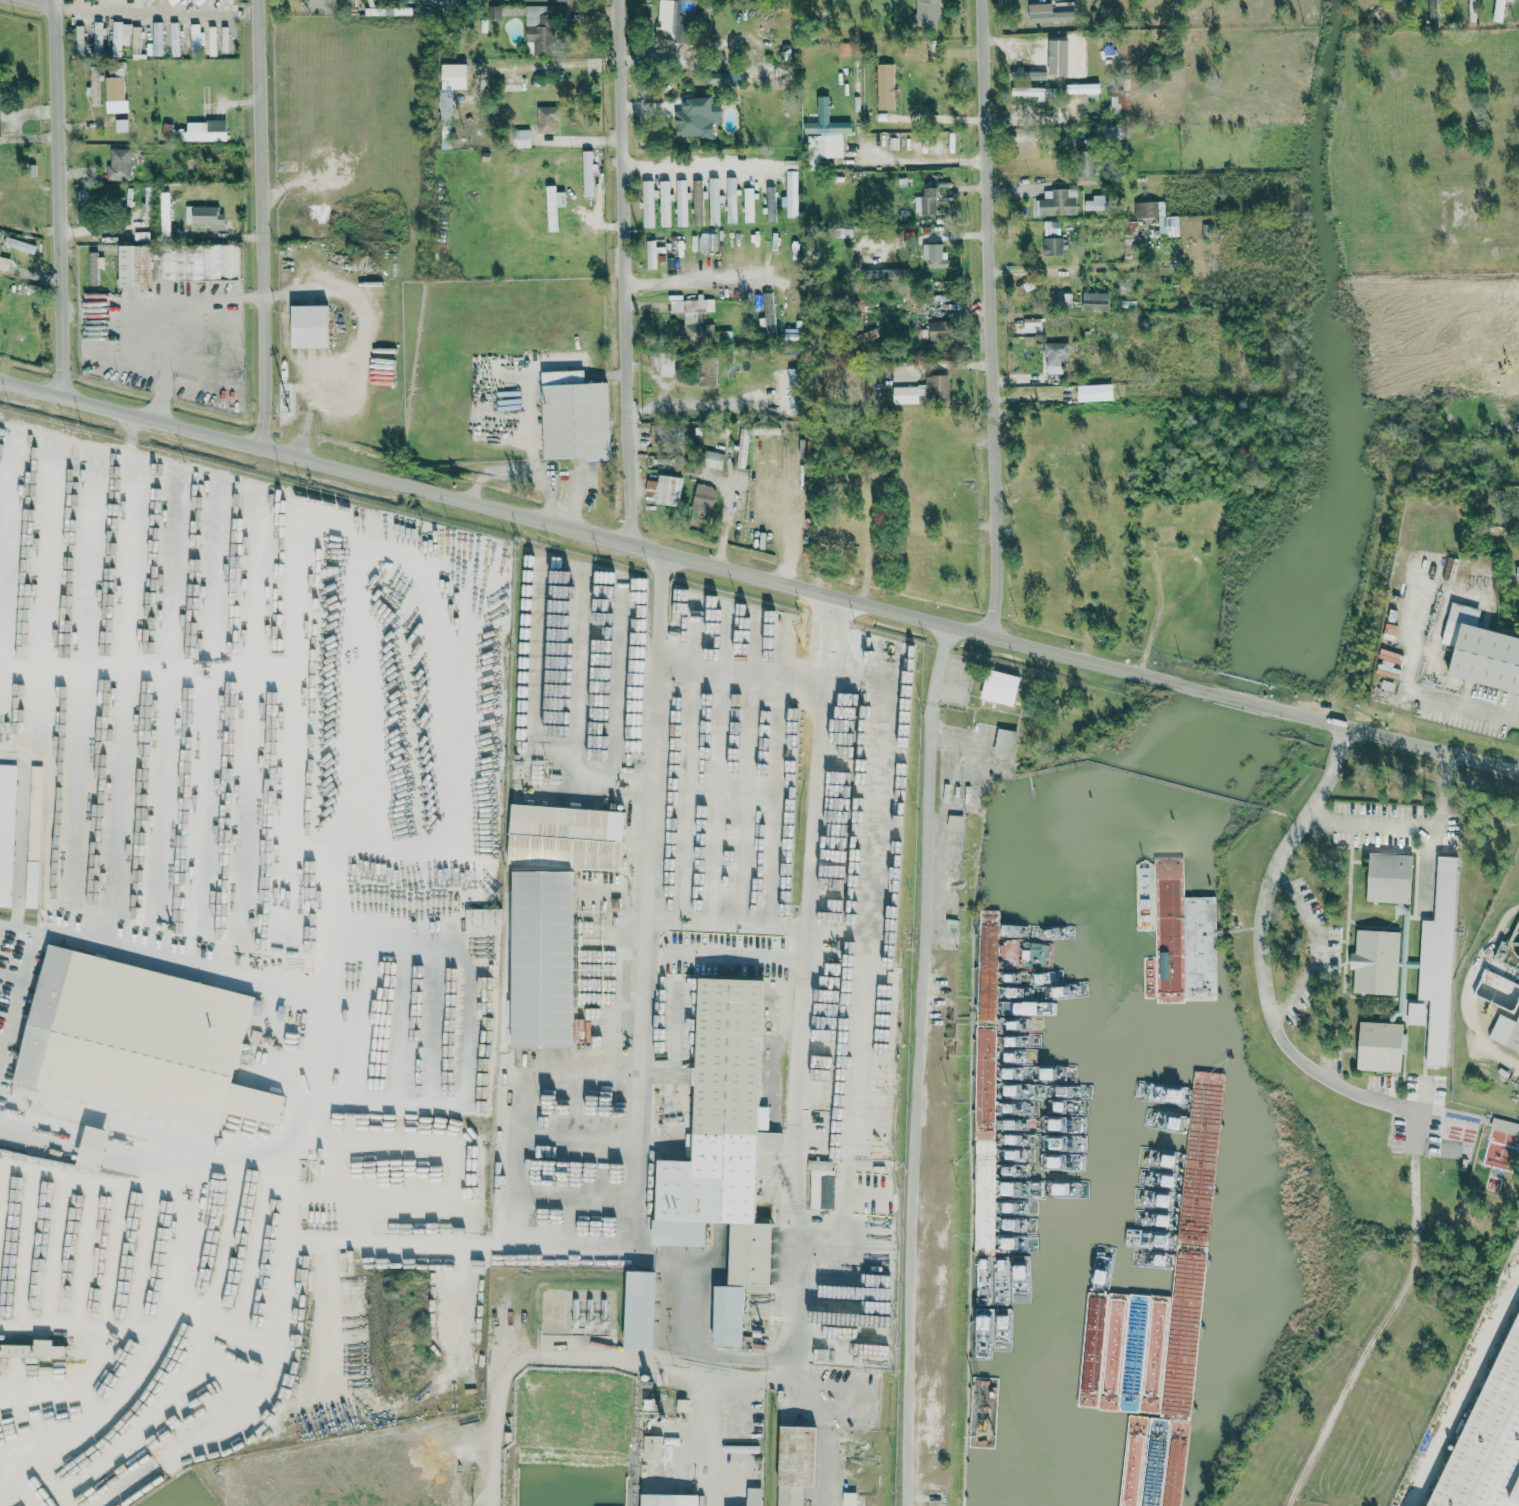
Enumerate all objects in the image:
building: (202, 0)
building: (560, 0)
building: (147, 2)
building: (172, 2)
road: (41, 3)
building: (331, 3)
building: (448, 6)
road: (141, 10)
building: (1499, 10)
building: (494, 11)
building: (926, 12)
building: (1047, 13)
building: (1433, 13)
building: (674, 27)
building: (539, 28)
building: (98, 35)
building: (120, 35)
building: (135, 35)
building: (79, 37)
building: (156, 39)
building: (1053, 57)
building: (768, 72)
building: (719, 78)
building: (93, 86)
building: (885, 86)
building: (1084, 90)
building: (114, 94)
building: (449, 97)
building: (1120, 99)
building: (697, 117)
building: (547, 118)
building: (121, 125)
building: (205, 130)
building: (1113, 133)
building: (521, 138)
building: (824, 139)
road: (928, 160)
building: (118, 164)
road: (685, 164)
building: (587, 173)
building: (791, 190)
road: (58, 198)
building: (730, 199)
building: (713, 200)
building: (554, 201)
building: (926, 201)
building: (681, 202)
building: (697, 202)
building: (1057, 202)
building: (648, 203)
building: (665, 203)
building: (770, 203)
building: (1098, 203)
building: (748, 204)
building: (164, 212)
building: (204, 216)
road: (261, 224)
building: (1169, 226)
building: (1051, 228)
building: (0, 237)
building: (707, 241)
building: (1052, 246)
building: (651, 254)
building: (933, 254)
building: (200, 261)
building: (4, 263)
building: (134, 265)
building: (92, 267)
road: (1064, 267)
road: (623, 271)
road: (692, 279)
building: (1096, 298)
building: (767, 313)
road: (988, 318)
building: (694, 321)
building: (309, 325)
road: (181, 328)
building: (940, 330)
building: (724, 335)
road: (362, 339)
building: (1055, 356)
building: (662, 361)
building: (707, 371)
building: (937, 386)
building: (1095, 392)
building: (907, 394)
road: (696, 403)
building: (575, 416)
building: (1518, 419)
building: (764, 430)
building: (656, 432)
building: (742, 447)
building: (712, 459)
building: (665, 489)
building: (703, 497)
road: (725, 524)
road: (759, 575)
building: (1481, 651)
building: (1000, 687)
road: (1474, 708)
building: (1006, 742)
building: (955, 822)
road: (1409, 825)
building: (6, 831)
building: (33, 836)
building: (565, 838)
road: (1424, 865)
building: (1390, 878)
road: (484, 895)
building: (483, 918)
building: (1183, 938)
road: (1321, 944)
road: (164, 960)
building: (543, 961)
building: (1376, 962)
building: (1438, 962)
road: (11, 975)
road: (21, 984)
road: (1469, 995)
wastewater plant: (1489, 1007)
building: (1416, 1014)
road: (817, 1019)
building: (1506, 1032)
road: (642, 1033)
building: (69, 1041)
building: (1381, 1046)
road: (915, 1064)
road: (519, 1101)
road: (1386, 1102)
building: (1167, 1119)
building: (1505, 1126)
road: (149, 1133)
building: (92, 1148)
building: (724, 1150)
building: (1501, 1150)
building: (826, 1166)
road: (473, 1236)
building: (640, 1311)
building: (33, 1350)
road: (530, 1362)
building: (682, 1405)
building: (1490, 1435)
building: (653, 1448)
building: (744, 1449)
building: (795, 1464)
road: (219, 1476)
building: (533, 1492)
building: (754, 1496)
building: (849, 1498)
building: (669, 1499)

